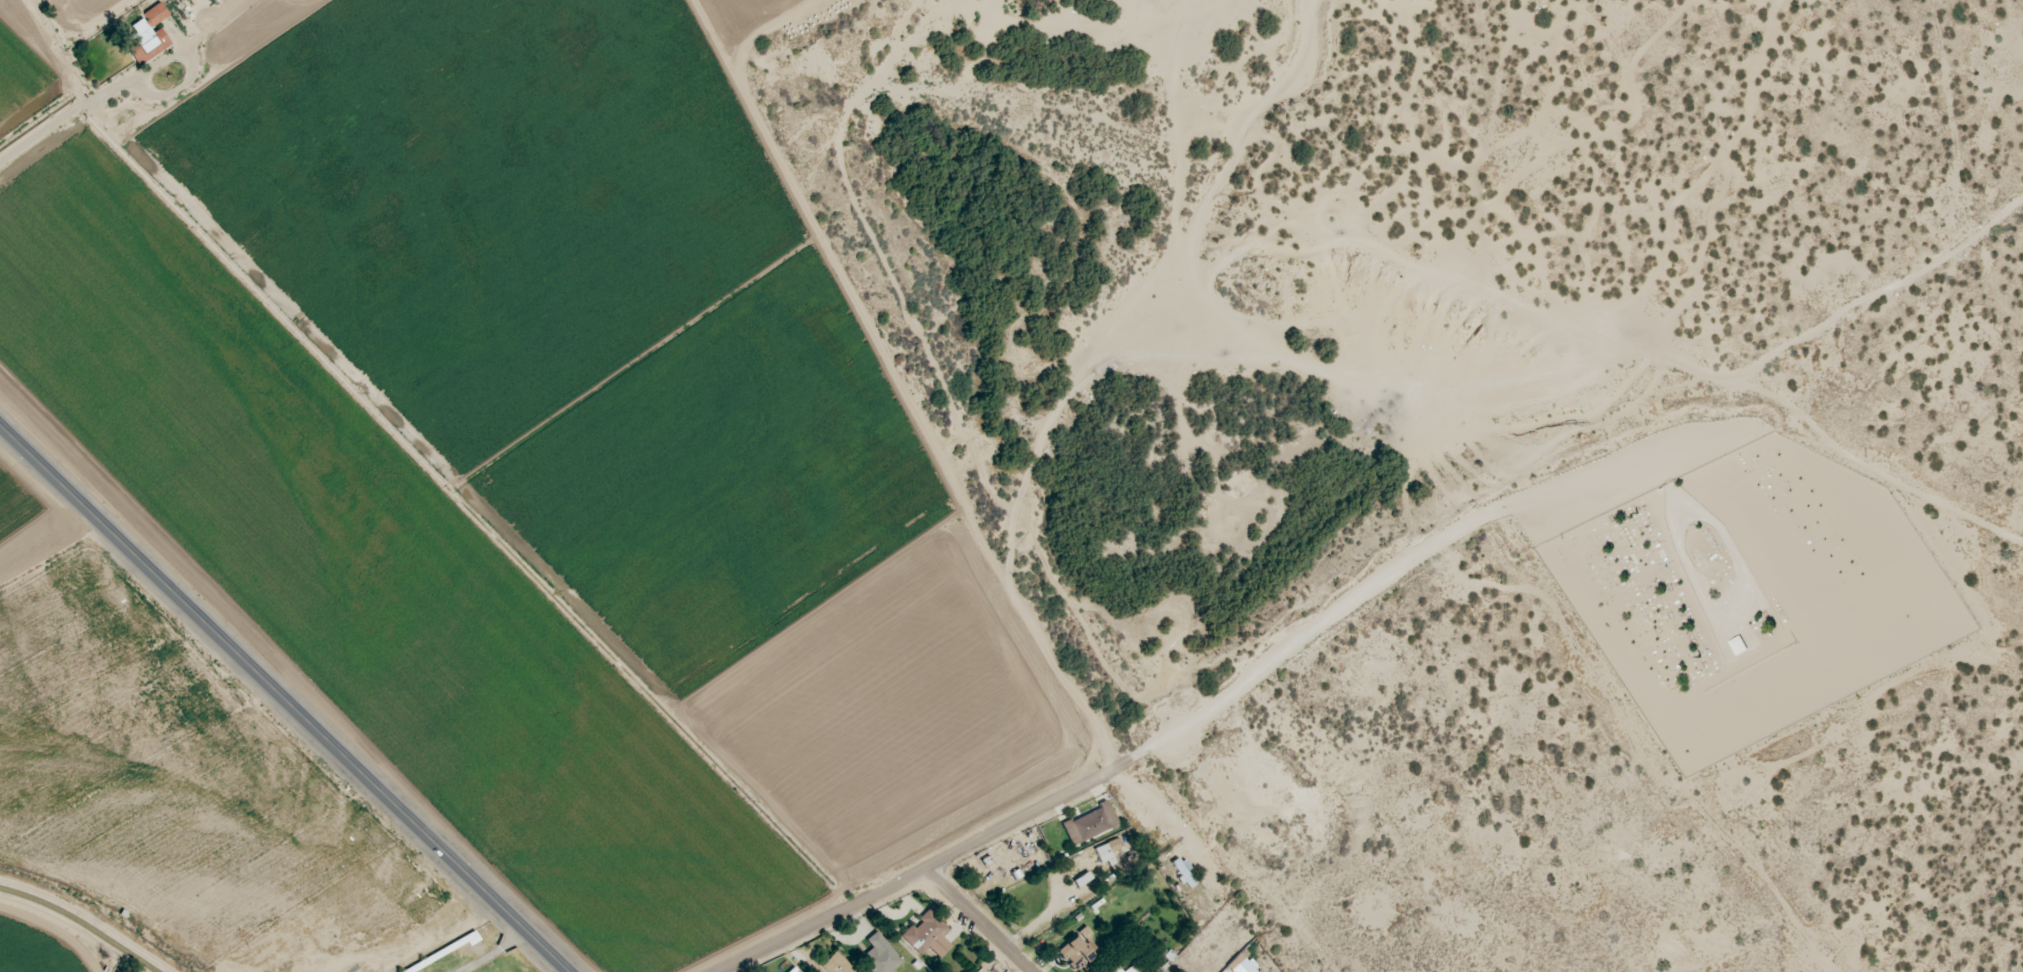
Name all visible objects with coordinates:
building: (168, 0)
building: (148, 35)
road: (109, 76)
road: (1751, 376)
park: (1753, 594)
road: (1316, 630)
building: (1737, 646)
road: (283, 699)
building: (1089, 824)
building: (1106, 852)
road: (944, 860)
building: (1182, 872)
building: (1083, 886)
road: (89, 916)
road: (980, 920)
building: (1084, 933)
building: (926, 936)
building: (1074, 953)
building: (879, 956)
building: (836, 964)
building: (1242, 964)
road: (151, 967)
building: (1132, 969)
building: (1114, 970)

